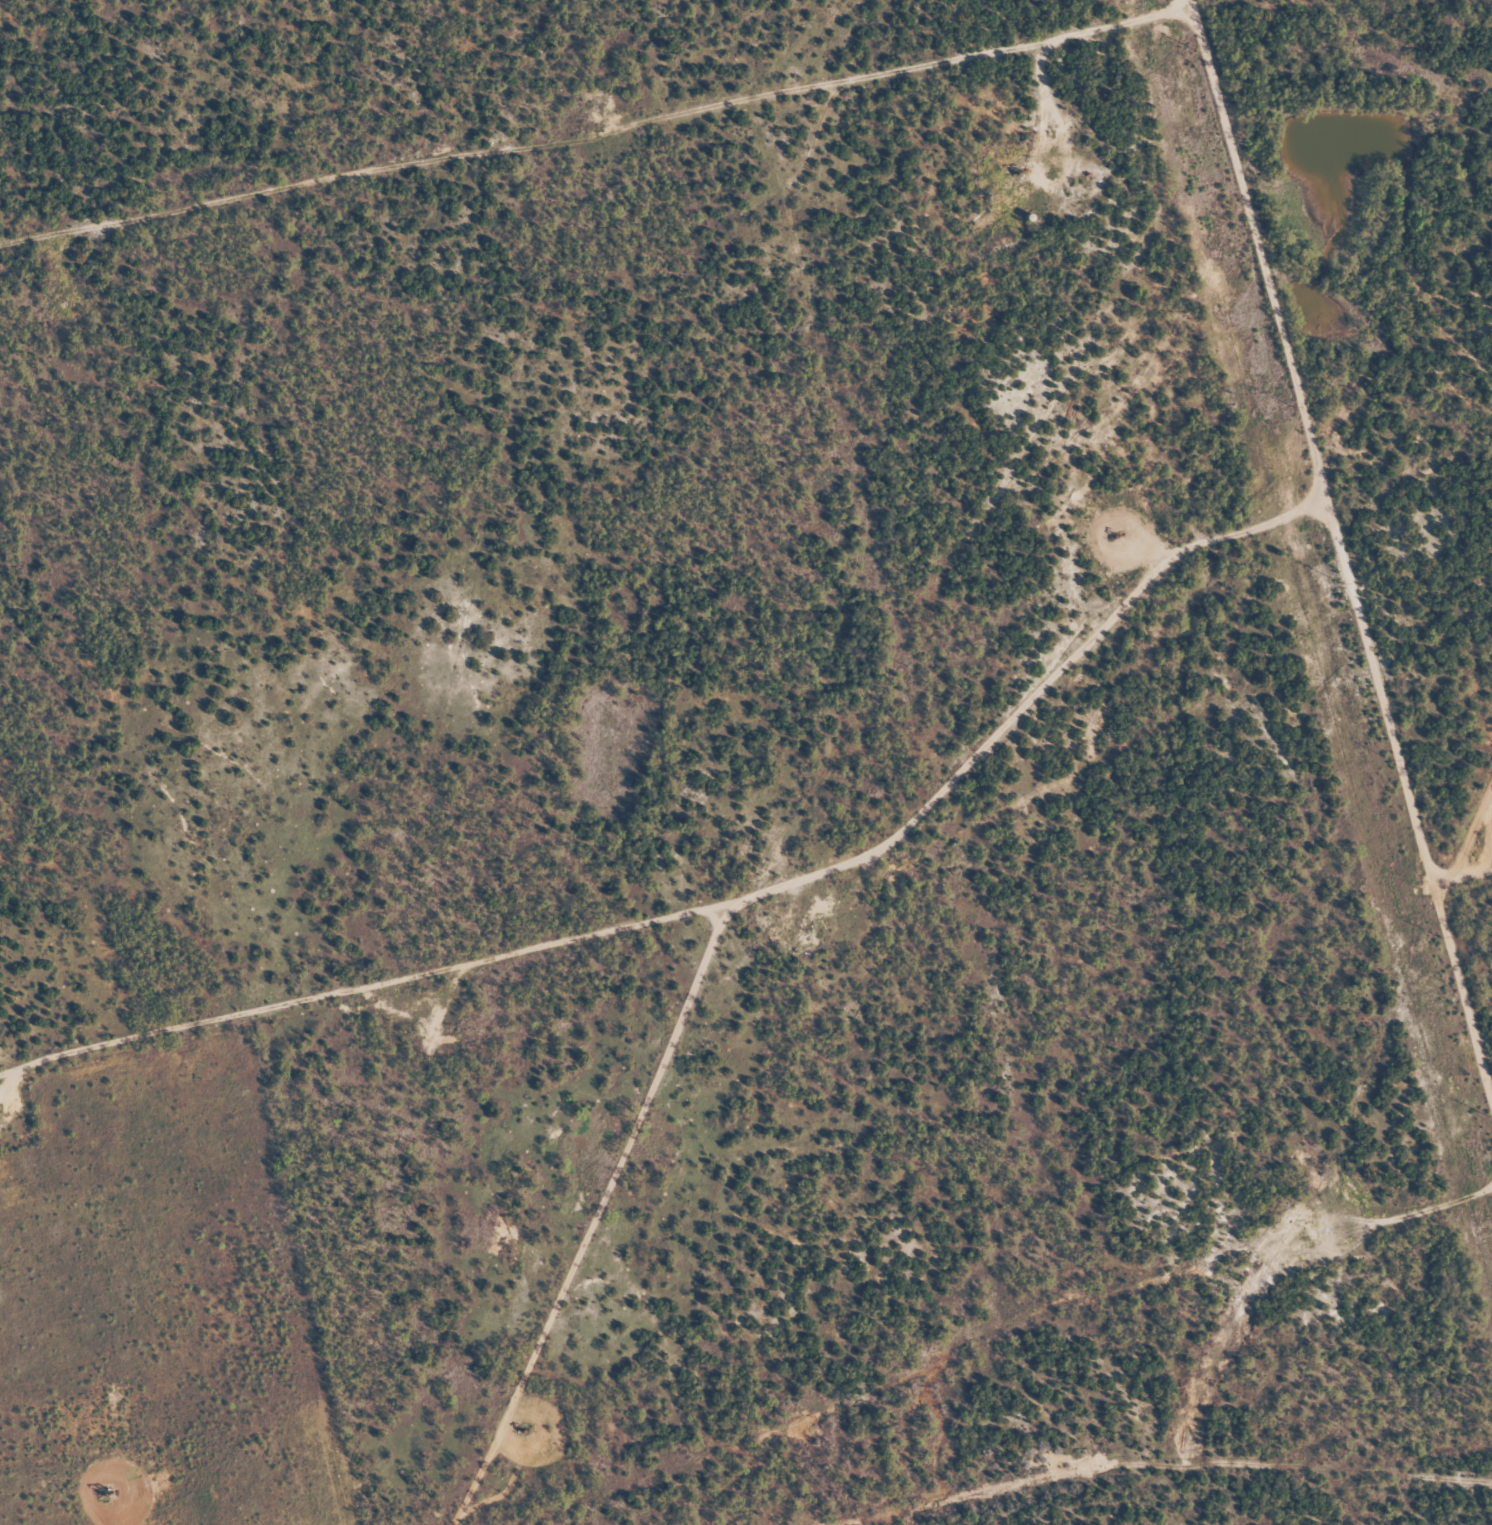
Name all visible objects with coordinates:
petroleum well: (1112, 534)
petroleum well: (526, 1426)
petroleum well: (108, 1489)

